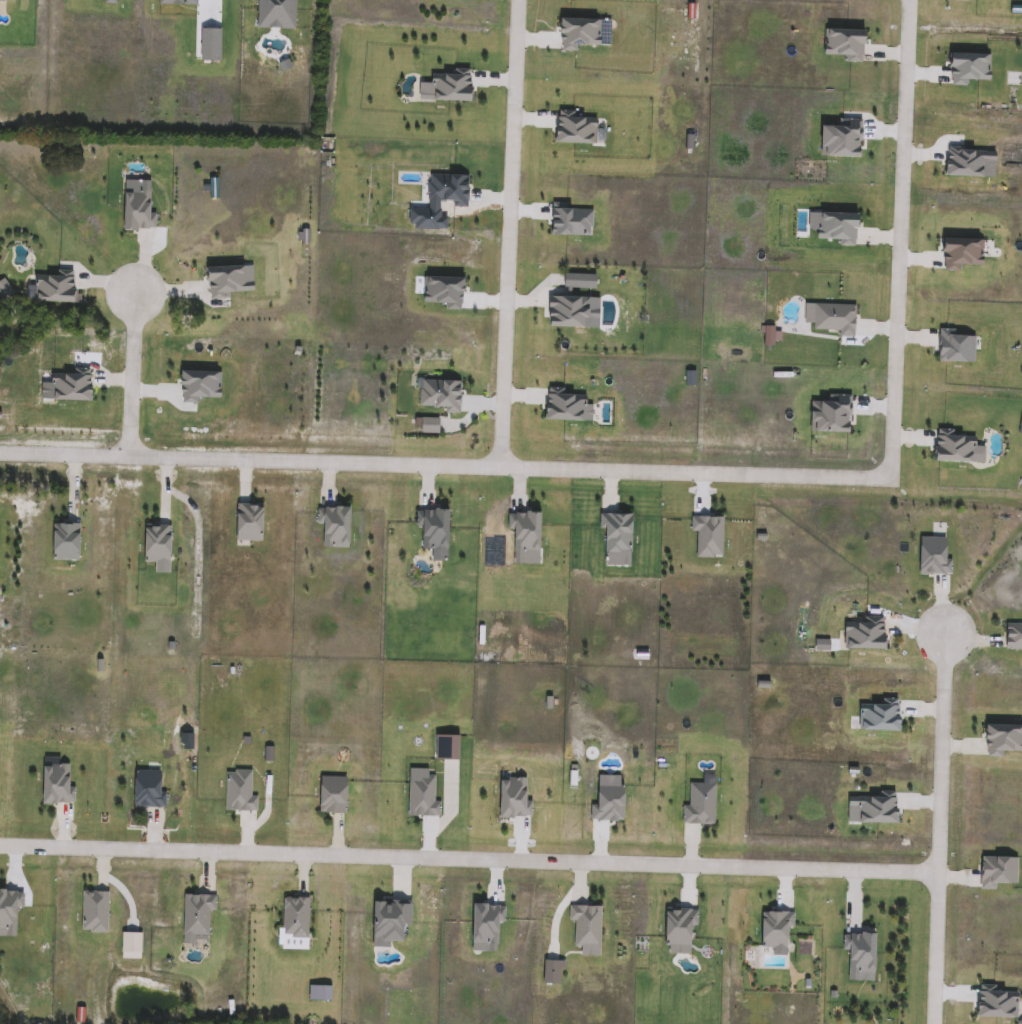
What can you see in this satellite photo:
building: (103, 1)
building: (176, 4)
building: (275, 14)
building: (212, 43)
building: (138, 215)
road: (505, 233)
road: (899, 239)
building: (228, 281)
building: (55, 290)
road: (132, 374)
building: (200, 387)
building: (69, 391)
building: (437, 396)
building: (565, 407)
building: (829, 417)
building: (424, 425)
building: (955, 448)
road: (445, 466)
building: (246, 523)
building: (332, 528)
building: (434, 536)
road: (195, 537)
building: (707, 537)
building: (525, 539)
building: (614, 539)
building: (64, 544)
building: (156, 546)
building: (931, 555)
building: (863, 636)
building: (1012, 636)
building: (878, 718)
building: (1001, 741)
building: (56, 787)
building: (145, 791)
building: (238, 792)
building: (421, 793)
building: (330, 796)
building: (512, 800)
building: (605, 800)
building: (699, 802)
building: (871, 812)
road: (936, 827)
road: (467, 852)
building: (999, 873)
building: (93, 911)
building: (9, 913)
building: (195, 917)
building: (294, 917)
building: (388, 922)
building: (485, 927)
building: (677, 928)
building: (585, 930)
building: (773, 933)
building: (857, 956)
building: (549, 973)
building: (996, 1006)

